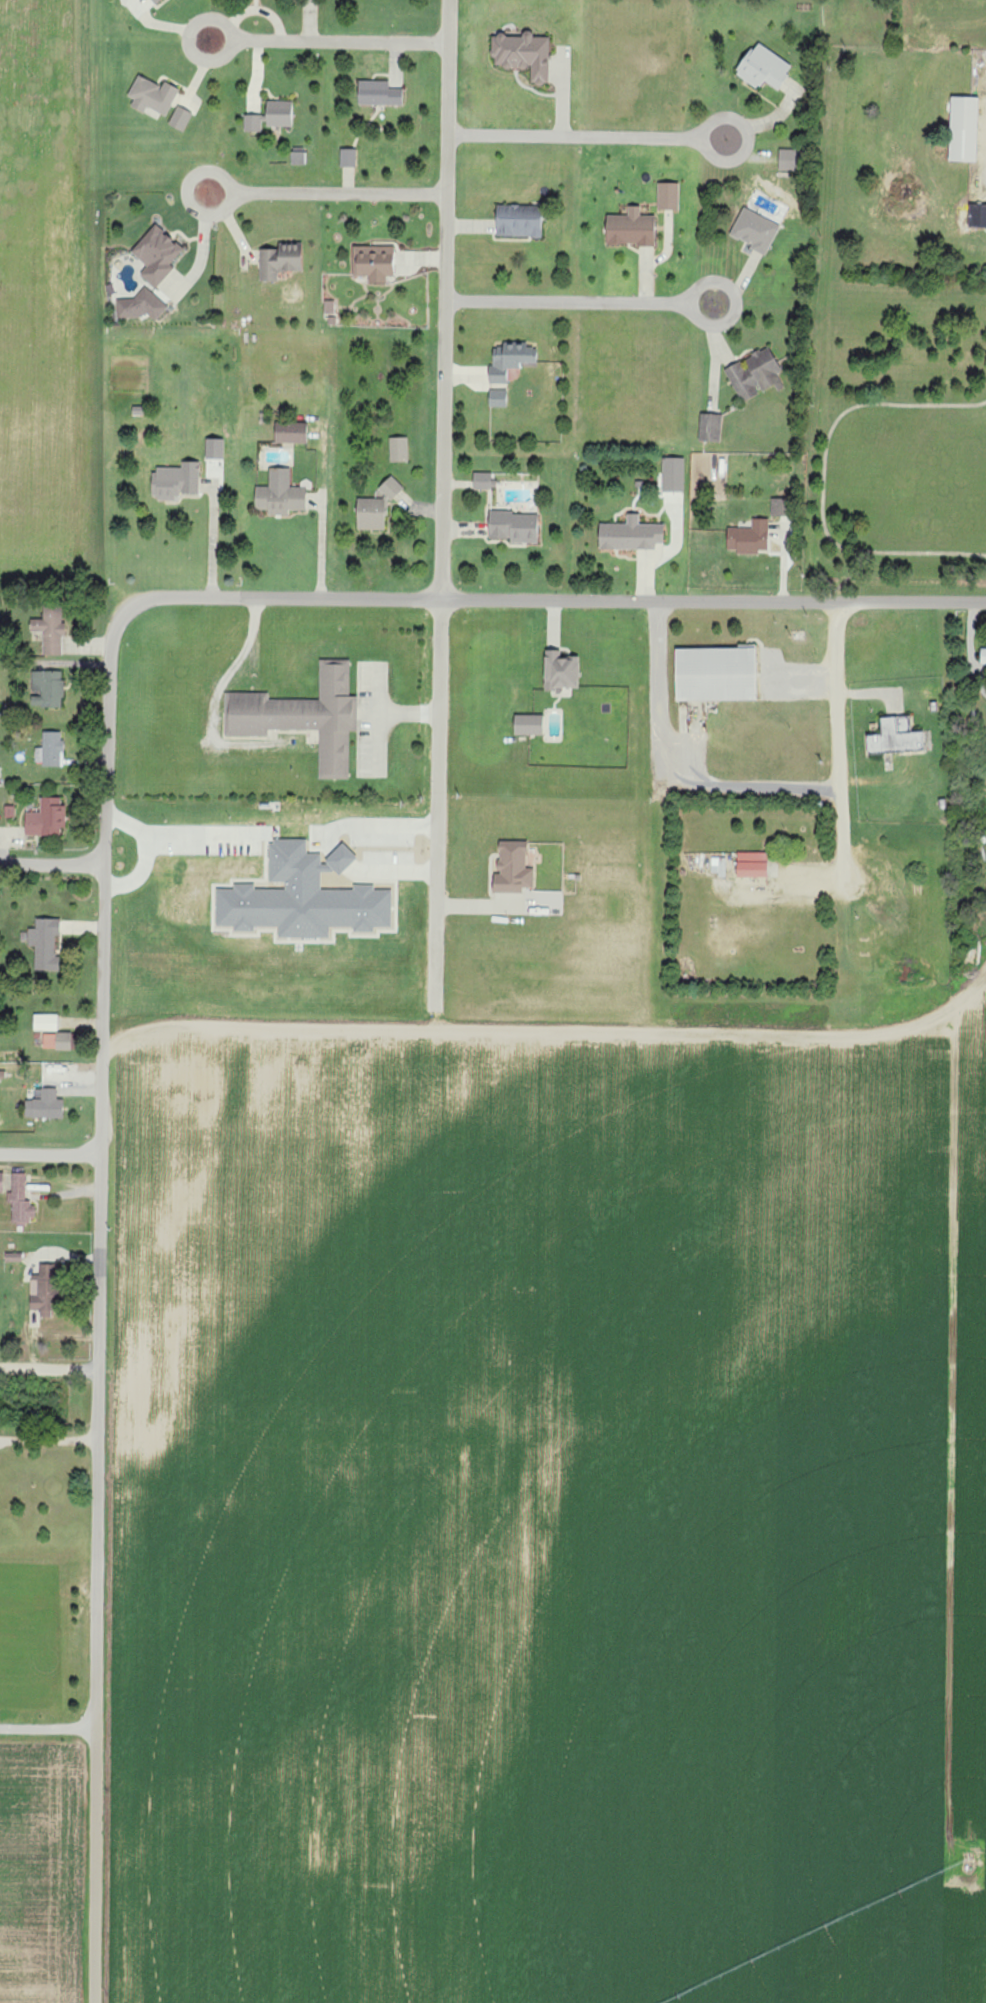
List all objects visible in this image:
building: (154, 1)
road: (343, 41)
building: (523, 55)
road: (195, 56)
building: (763, 68)
building: (378, 93)
building: (152, 96)
building: (279, 114)
building: (180, 119)
road: (741, 120)
building: (252, 123)
building: (964, 129)
road: (571, 135)
building: (298, 157)
building: (348, 158)
building: (789, 160)
road: (192, 179)
road: (342, 194)
building: (668, 197)
building: (977, 216)
building: (519, 221)
building: (631, 229)
building: (755, 231)
building: (157, 255)
building: (279, 261)
building: (374, 262)
road: (733, 291)
road: (445, 299)
road: (567, 300)
building: (140, 307)
building: (329, 309)
building: (510, 360)
building: (753, 375)
building: (498, 398)
building: (710, 427)
building: (291, 432)
building: (215, 448)
building: (398, 449)
building: (673, 474)
building: (175, 480)
building: (483, 480)
building: (391, 487)
building: (280, 494)
building: (371, 513)
building: (514, 526)
road: (215, 534)
building: (630, 534)
building: (749, 537)
road: (325, 542)
road: (538, 599)
building: (49, 629)
road: (974, 649)
building: (983, 655)
building: (561, 670)
building: (715, 673)
building: (47, 688)
road: (835, 696)
building: (302, 716)
building: (528, 724)
building: (895, 736)
building: (50, 749)
road: (667, 780)
road: (438, 811)
building: (46, 818)
road: (52, 864)
building: (752, 864)
building: (718, 866)
building: (512, 868)
building: (303, 896)
building: (43, 942)
road: (711, 1015)
road: (267, 1020)
building: (45, 1022)
building: (56, 1041)
building: (45, 1105)
road: (51, 1154)
building: (1, 1181)
building: (20, 1200)
building: (13, 1257)
building: (44, 1290)
road: (100, 1316)
road: (50, 1366)
road: (49, 1437)
road: (48, 1604)

